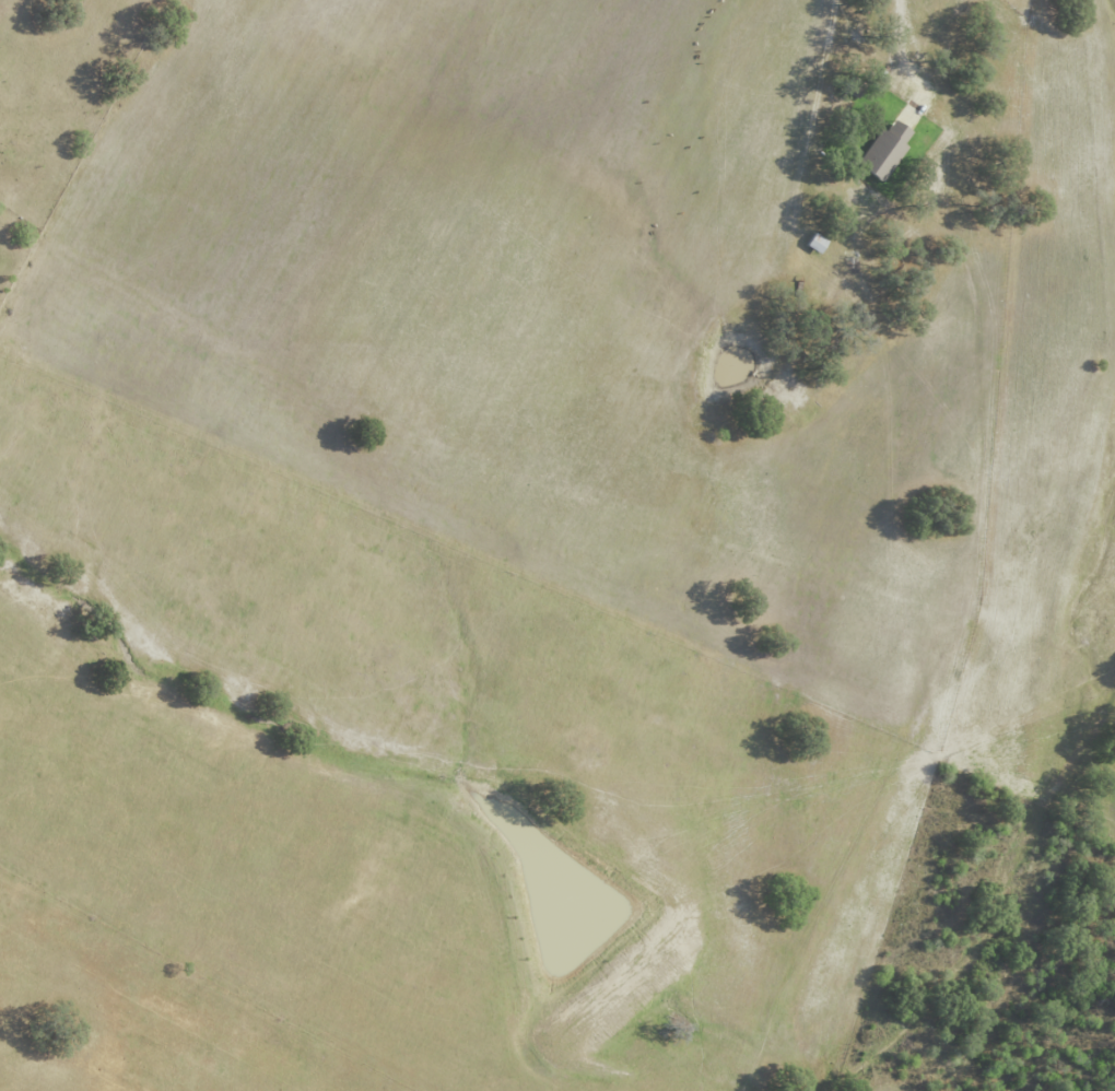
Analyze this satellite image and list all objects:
road: (904, 48)
building: (891, 149)

